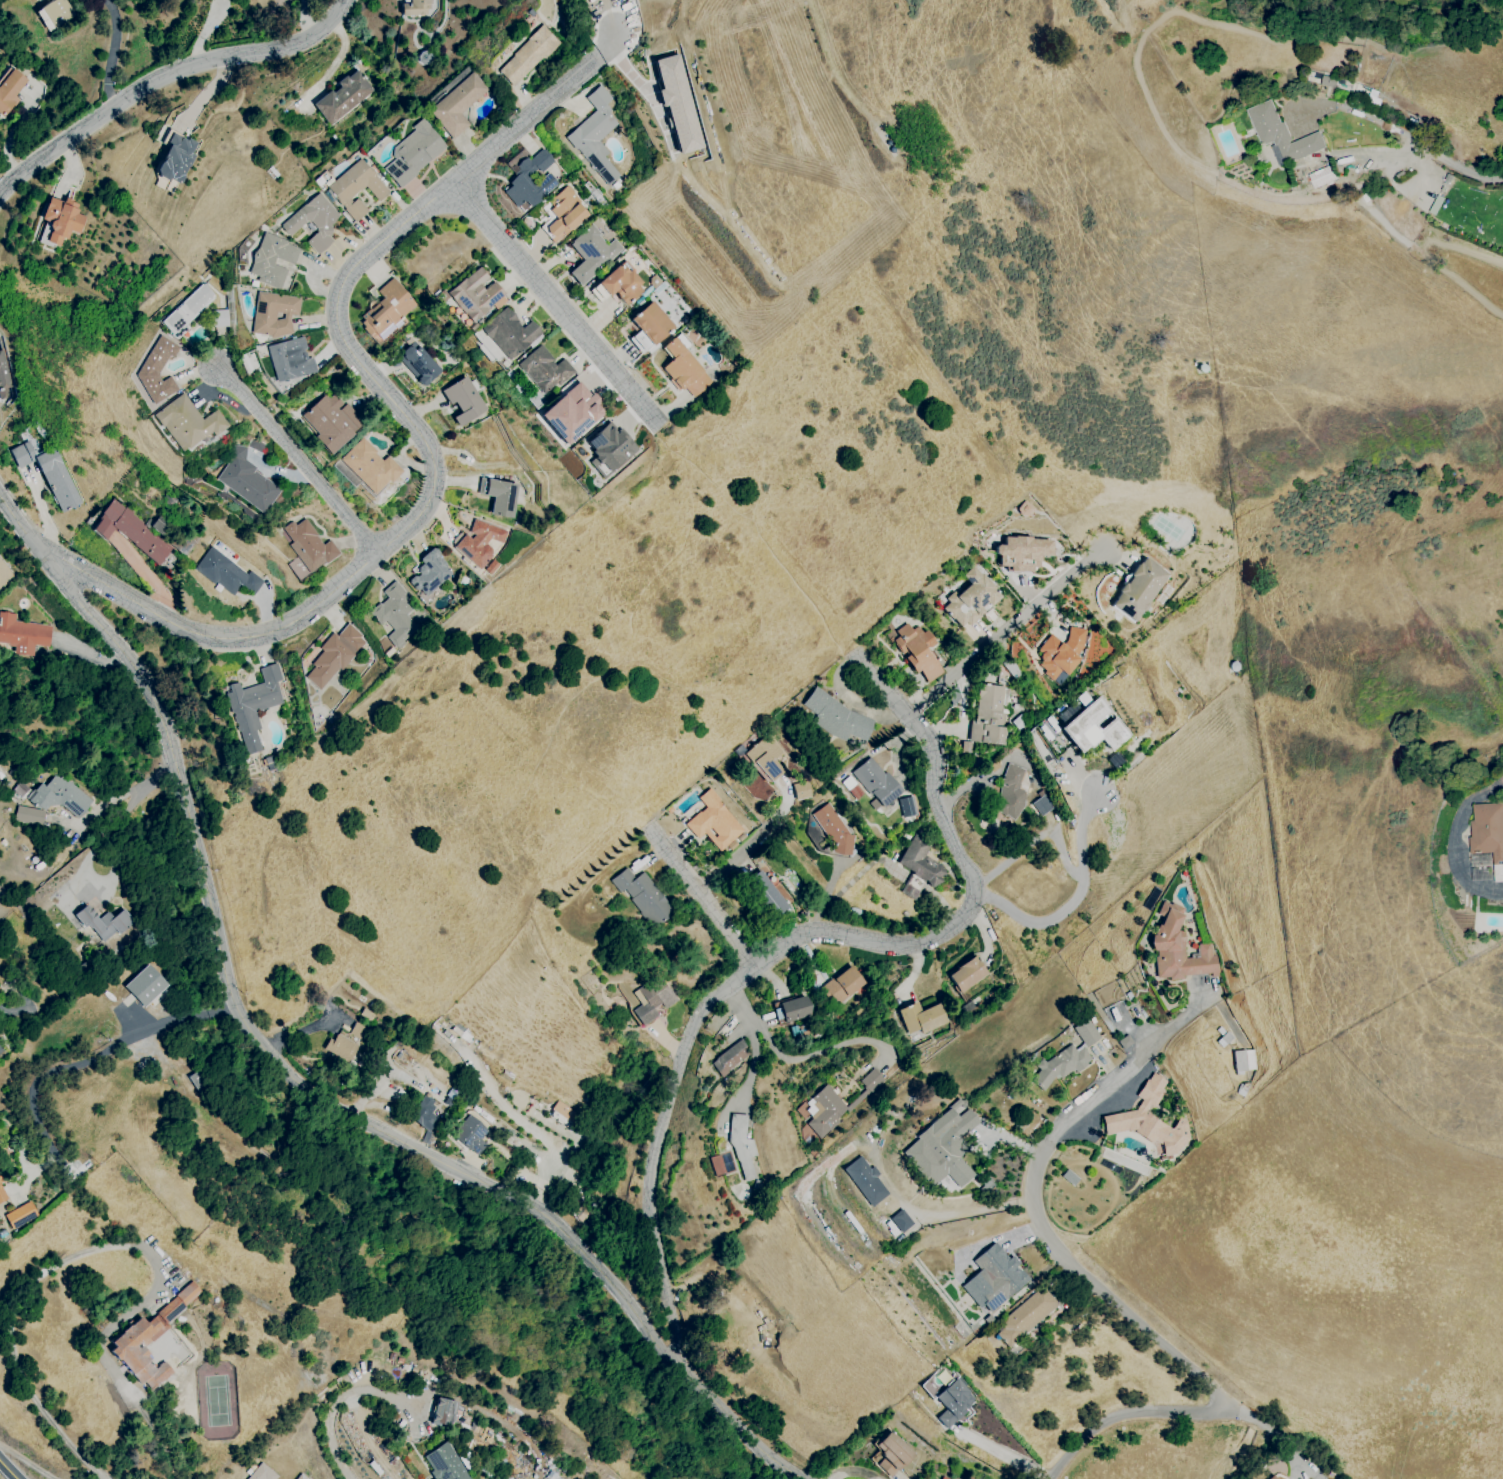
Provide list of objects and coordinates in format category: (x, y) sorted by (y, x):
building: (37, 0)
building: (415, 7)
building: (56, 12)
road: (213, 20)
road: (610, 44)
road: (200, 51)
road: (110, 55)
building: (529, 55)
road: (337, 62)
road: (628, 69)
road: (165, 76)
building: (10, 90)
road: (209, 92)
building: (343, 97)
building: (678, 103)
building: (458, 104)
road: (527, 118)
building: (1282, 133)
building: (596, 135)
road: (1429, 148)
building: (414, 153)
building: (176, 156)
building: (1321, 176)
building: (531, 180)
building: (357, 188)
building: (566, 214)
building: (62, 219)
building: (314, 221)
building: (592, 253)
building: (273, 260)
building: (622, 282)
building: (476, 295)
road: (557, 304)
building: (387, 308)
building: (188, 311)
building: (274, 314)
building: (219, 318)
building: (652, 323)
building: (510, 333)
building: (290, 359)
building: (419, 363)
building: (545, 369)
building: (685, 369)
building: (158, 370)
building: (3, 373)
building: (464, 400)
building: (572, 413)
building: (188, 422)
building: (332, 422)
building: (610, 449)
road: (299, 458)
building: (370, 466)
building: (48, 473)
building: (248, 478)
building: (500, 496)
road: (22, 509)
building: (1024, 509)
road: (44, 512)
road: (412, 521)
building: (132, 531)
building: (481, 542)
building: (309, 545)
building: (1022, 553)
building: (227, 573)
building: (431, 573)
building: (1140, 589)
building: (971, 599)
building: (395, 613)
road: (1005, 631)
building: (22, 634)
building: (918, 651)
building: (1062, 652)
building: (335, 655)
road: (852, 699)
building: (253, 705)
building: (991, 714)
building: (836, 716)
building: (1094, 727)
building: (764, 758)
building: (877, 782)
building: (800, 790)
building: (1011, 793)
building: (58, 796)
building: (907, 806)
building: (1041, 806)
road: (97, 812)
building: (28, 815)
building: (714, 821)
building: (834, 830)
building: (1488, 830)
building: (816, 836)
road: (1037, 838)
road: (1456, 840)
road: (753, 842)
road: (98, 846)
building: (919, 867)
building: (767, 895)
building: (643, 896)
road: (1072, 900)
road: (706, 903)
building: (103, 922)
road: (790, 942)
building: (1178, 949)
building: (968, 973)
building: (844, 985)
building: (144, 986)
building: (650, 1000)
building: (795, 1009)
building: (365, 1014)
building: (776, 1014)
building: (922, 1017)
building: (357, 1031)
building: (1085, 1032)
building: (340, 1048)
road: (110, 1049)
building: (730, 1058)
building: (1244, 1060)
road: (794, 1061)
building: (1063, 1065)
road: (289, 1075)
building: (871, 1080)
building: (826, 1111)
building: (562, 1115)
building: (425, 1118)
building: (1150, 1120)
building: (470, 1134)
building: (742, 1145)
building: (944, 1147)
building: (719, 1164)
building: (864, 1181)
building: (2, 1195)
building: (20, 1215)
building: (899, 1221)
road: (1052, 1240)
building: (994, 1278)
road: (15, 1307)
building: (1025, 1316)
building: (149, 1340)
building: (952, 1401)
road: (337, 1402)
road: (1187, 1407)
building: (443, 1411)
building: (890, 1454)
road: (1012, 1458)
road: (26, 1462)
building: (445, 1463)
road: (8, 1469)
building: (262, 1473)
building: (300, 1477)
building: (1272, 1477)
building: (943, 1478)

